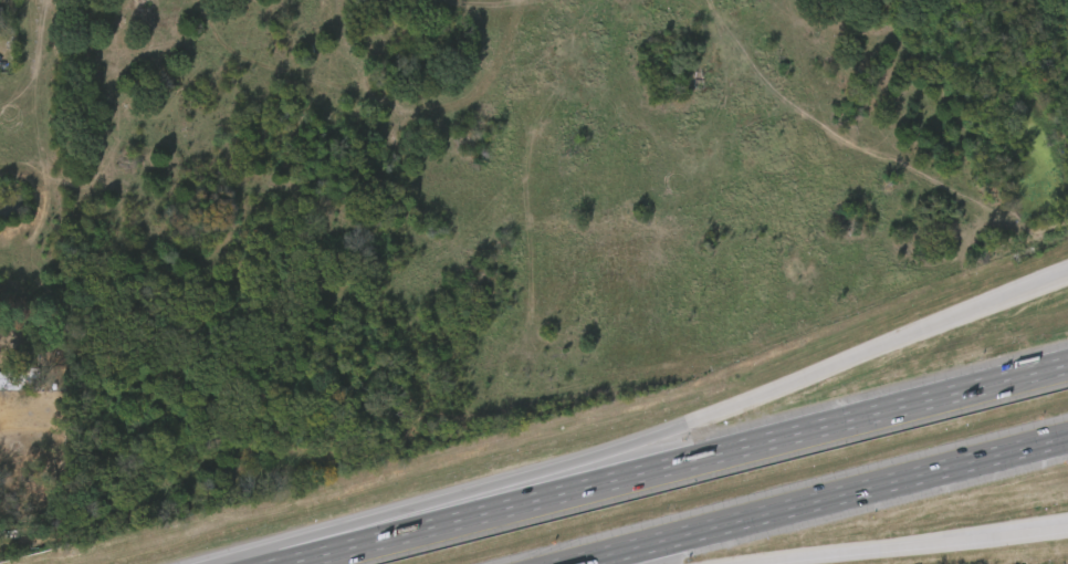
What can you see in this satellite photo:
building: (25, 377)
building: (10, 388)
road: (647, 437)
road: (674, 463)
road: (817, 500)
road: (899, 545)

